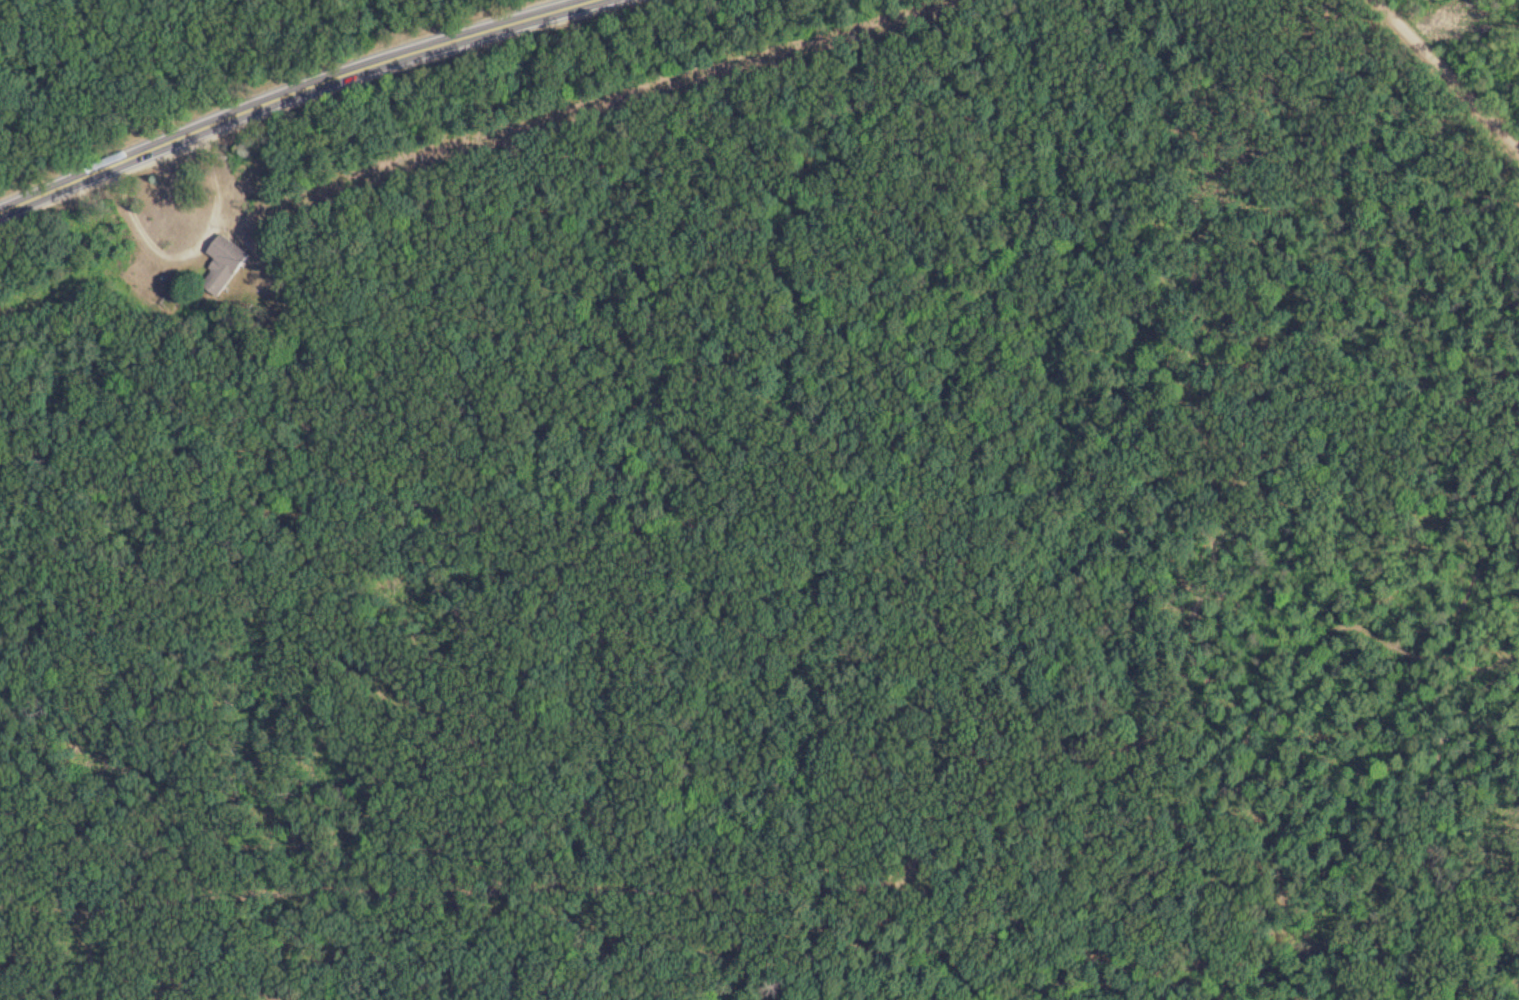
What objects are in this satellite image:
road: (1447, 76)
road: (291, 93)
road: (191, 244)
building: (227, 264)
road: (990, 408)
road: (969, 757)

